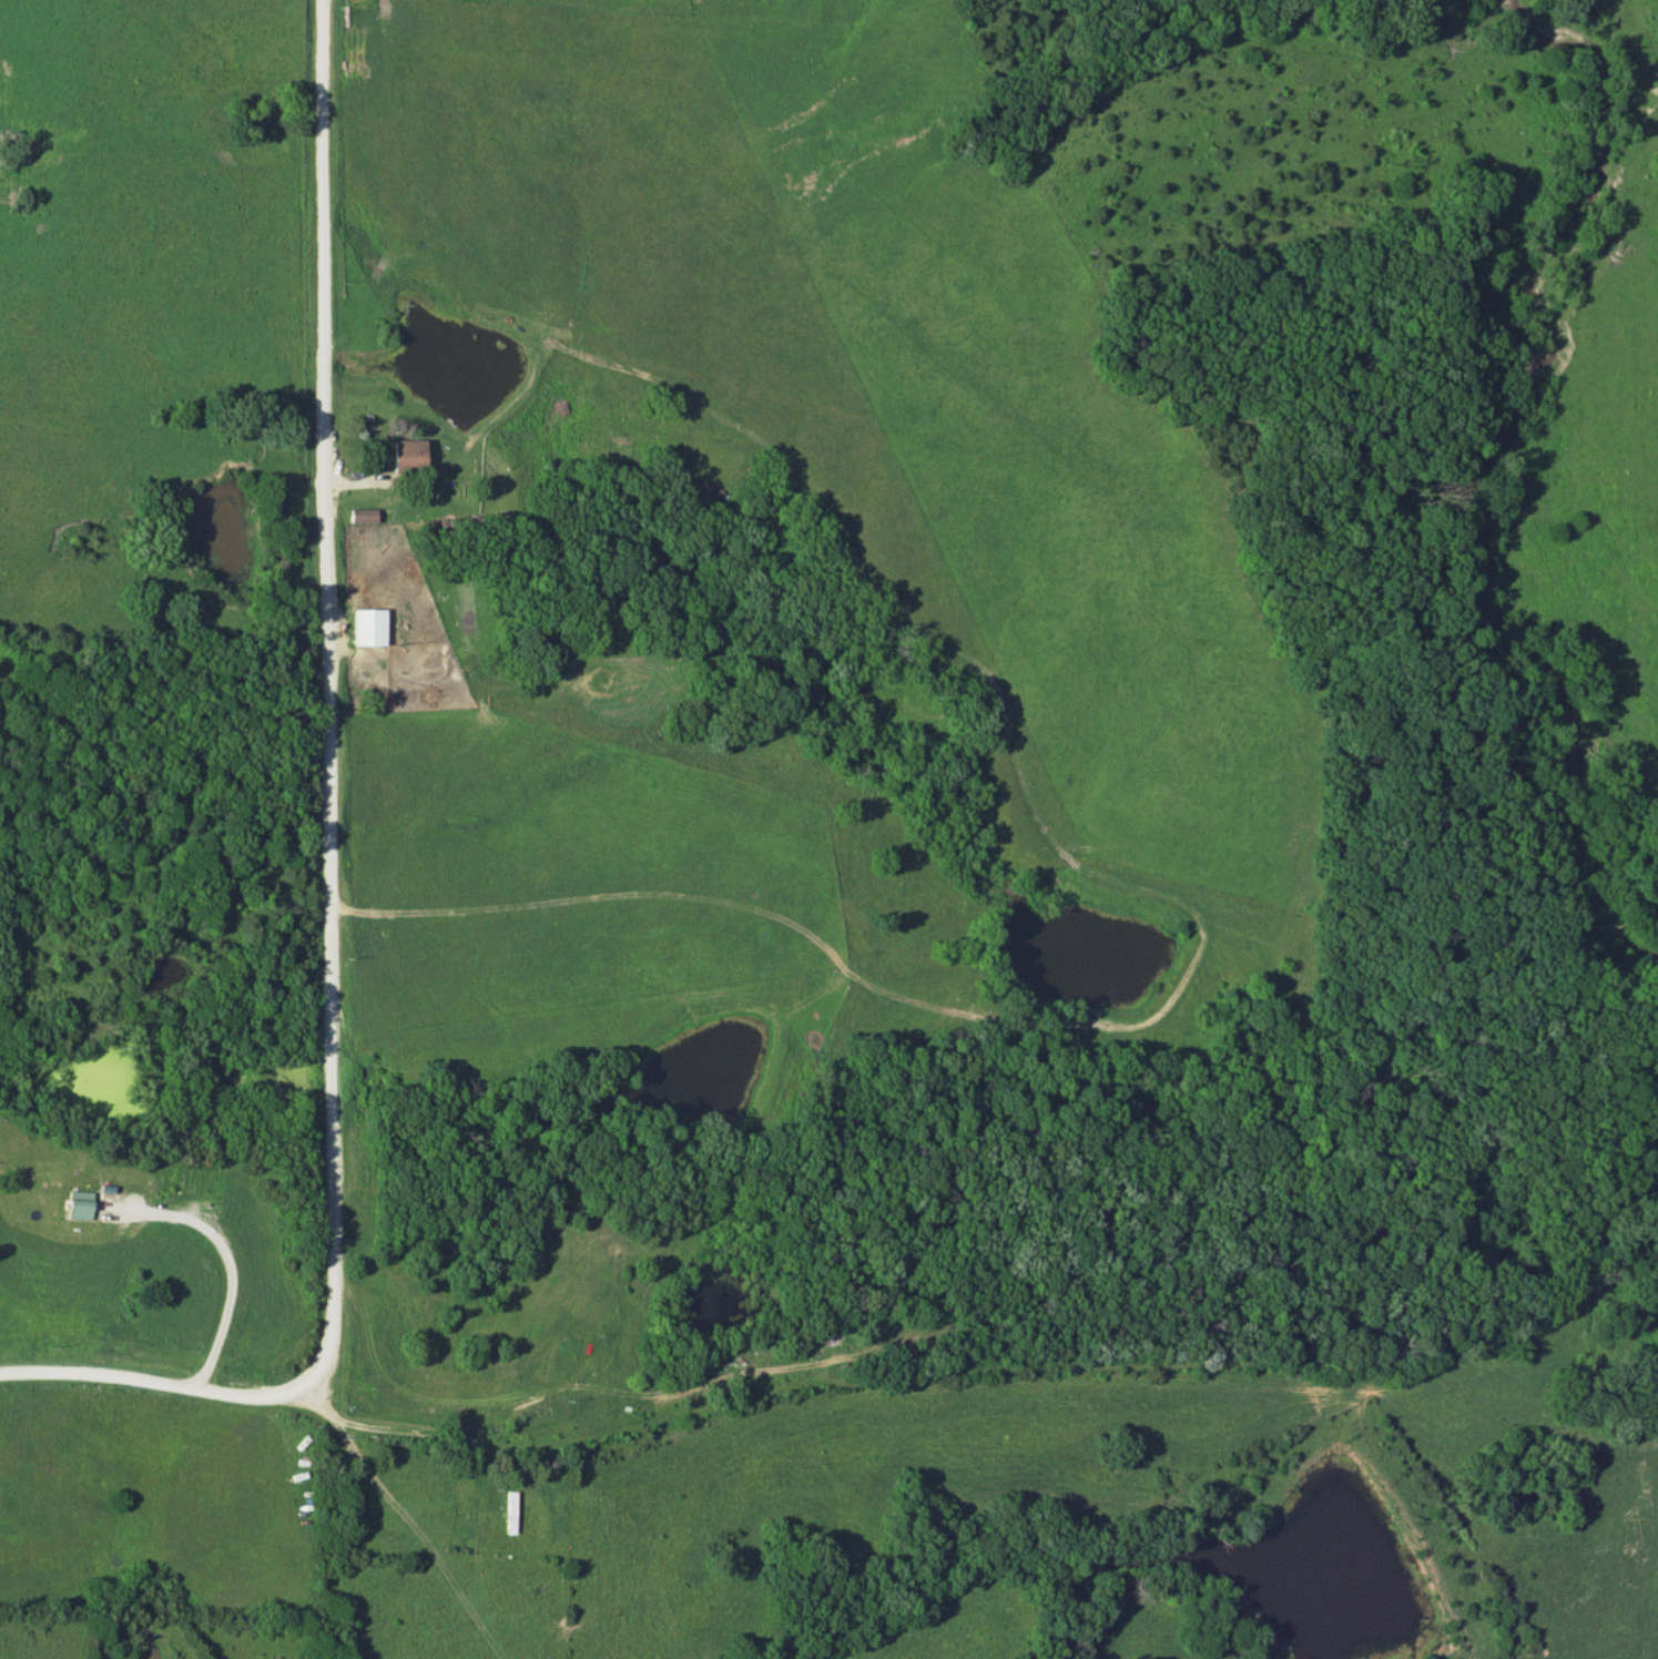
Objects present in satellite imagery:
building: (410, 456)
building: (370, 628)
road: (329, 847)
building: (82, 1204)
building: (512, 1510)

